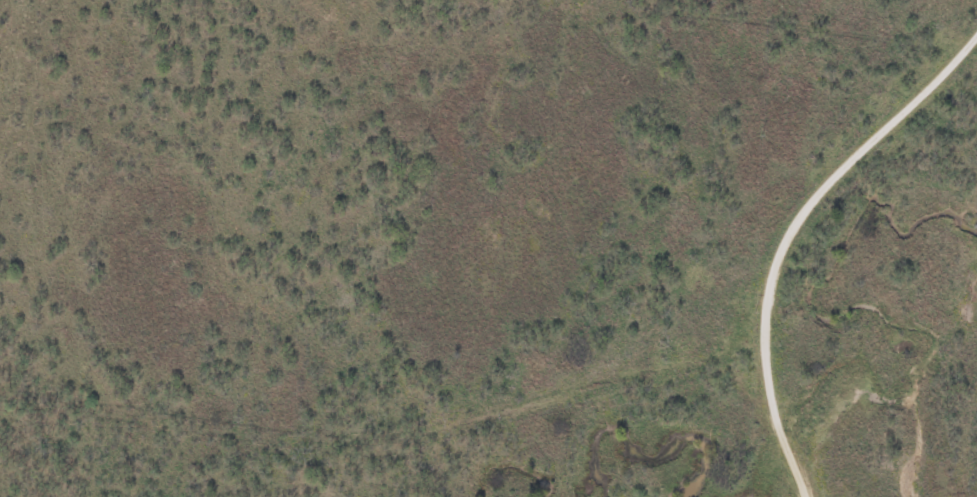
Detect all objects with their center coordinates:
road: (796, 258)

